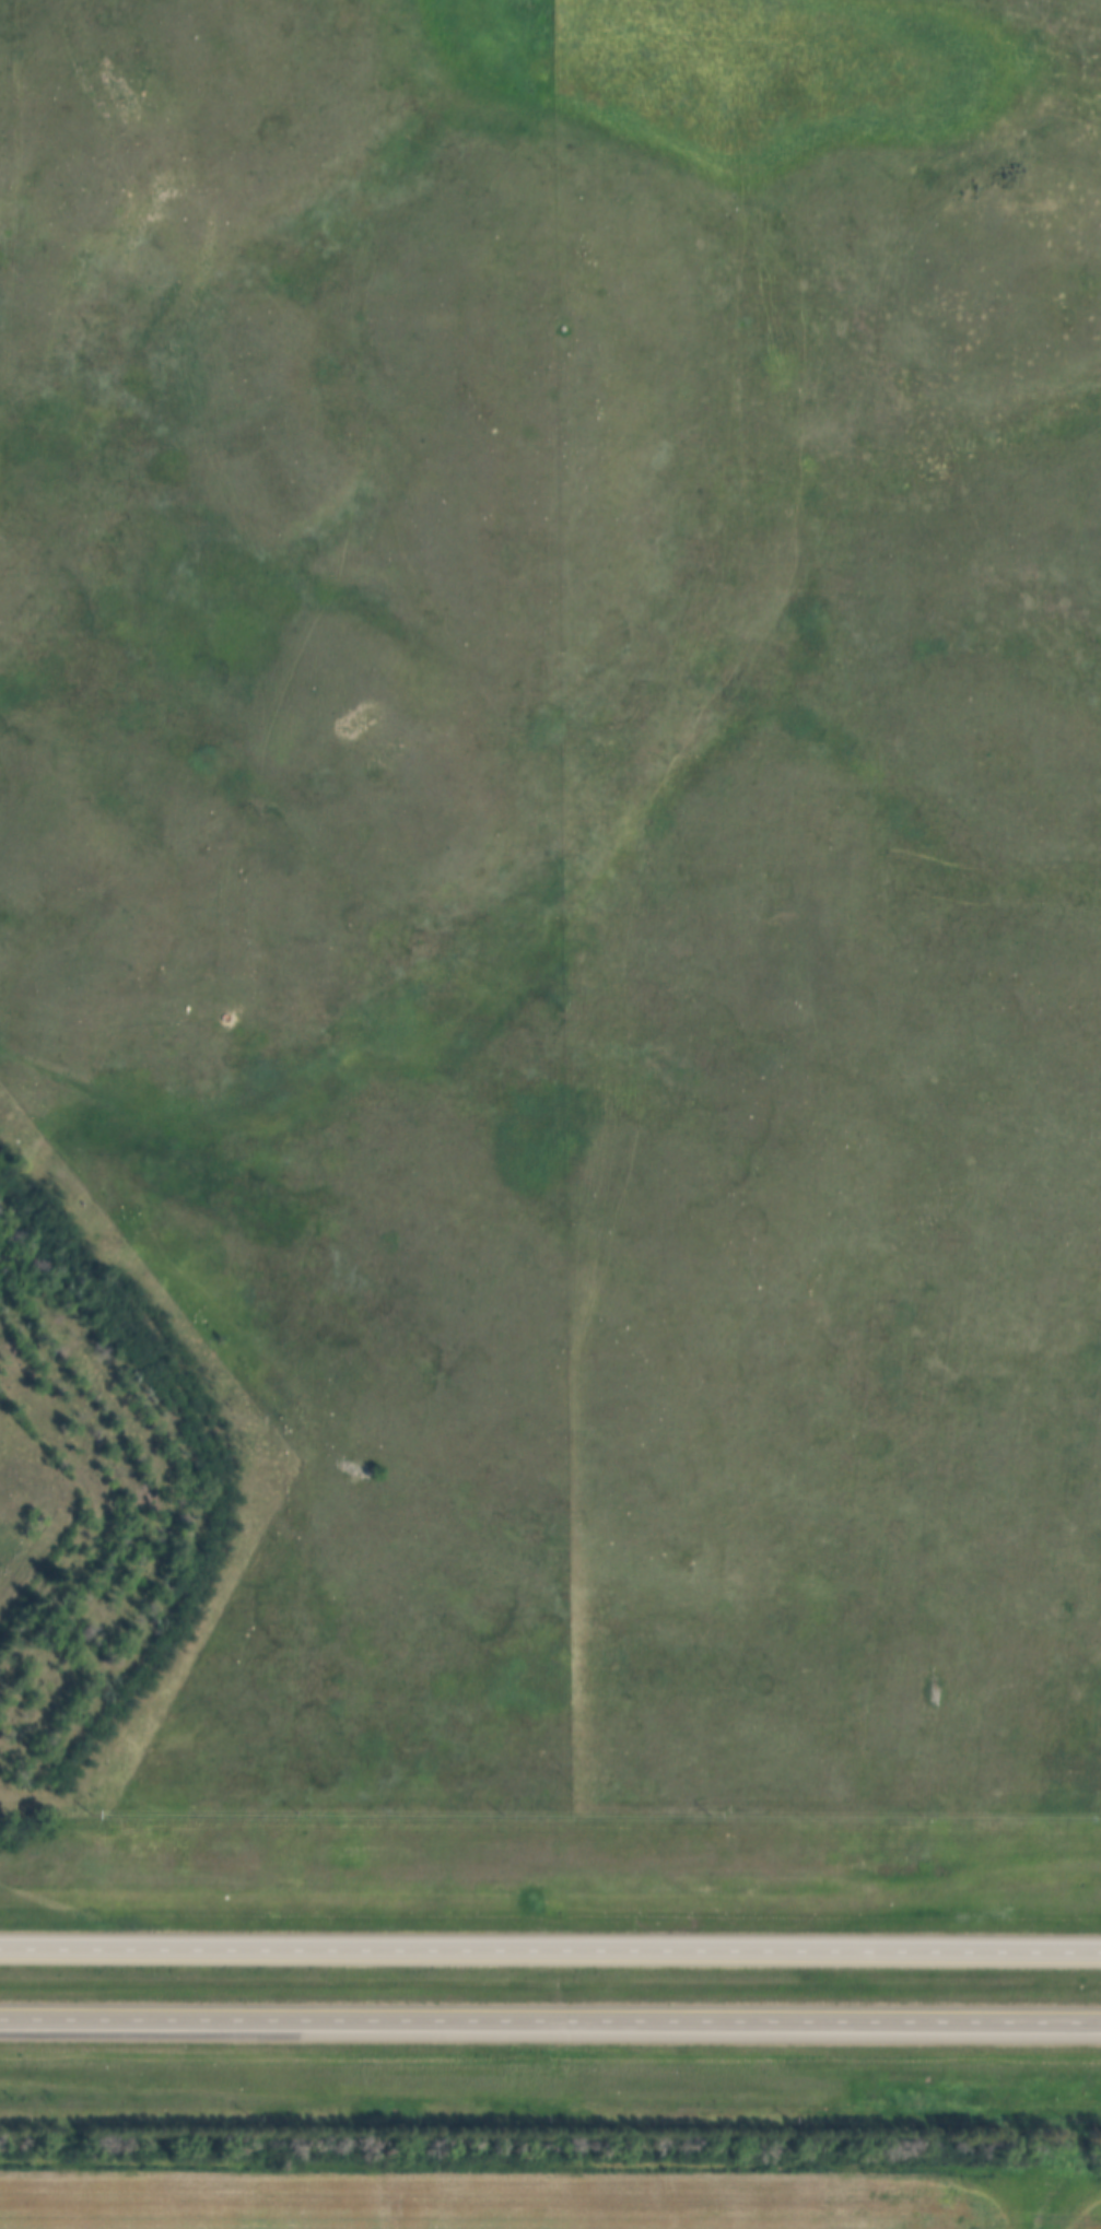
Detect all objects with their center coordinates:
road: (550, 1954)
road: (550, 2018)

